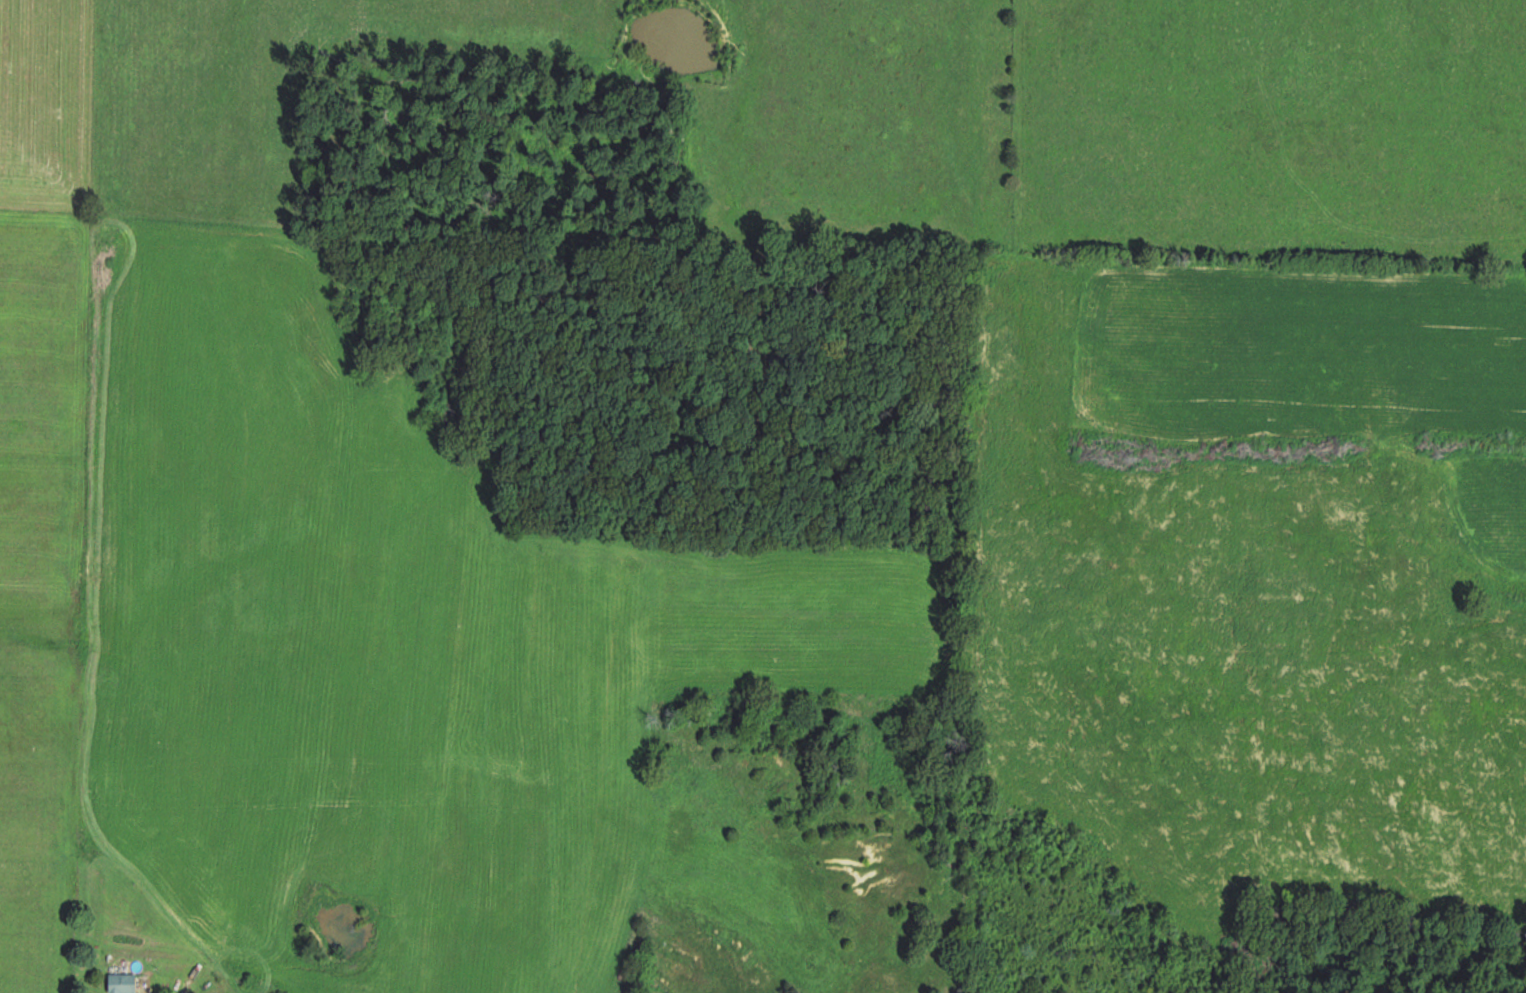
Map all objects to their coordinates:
building: (128, 983)

